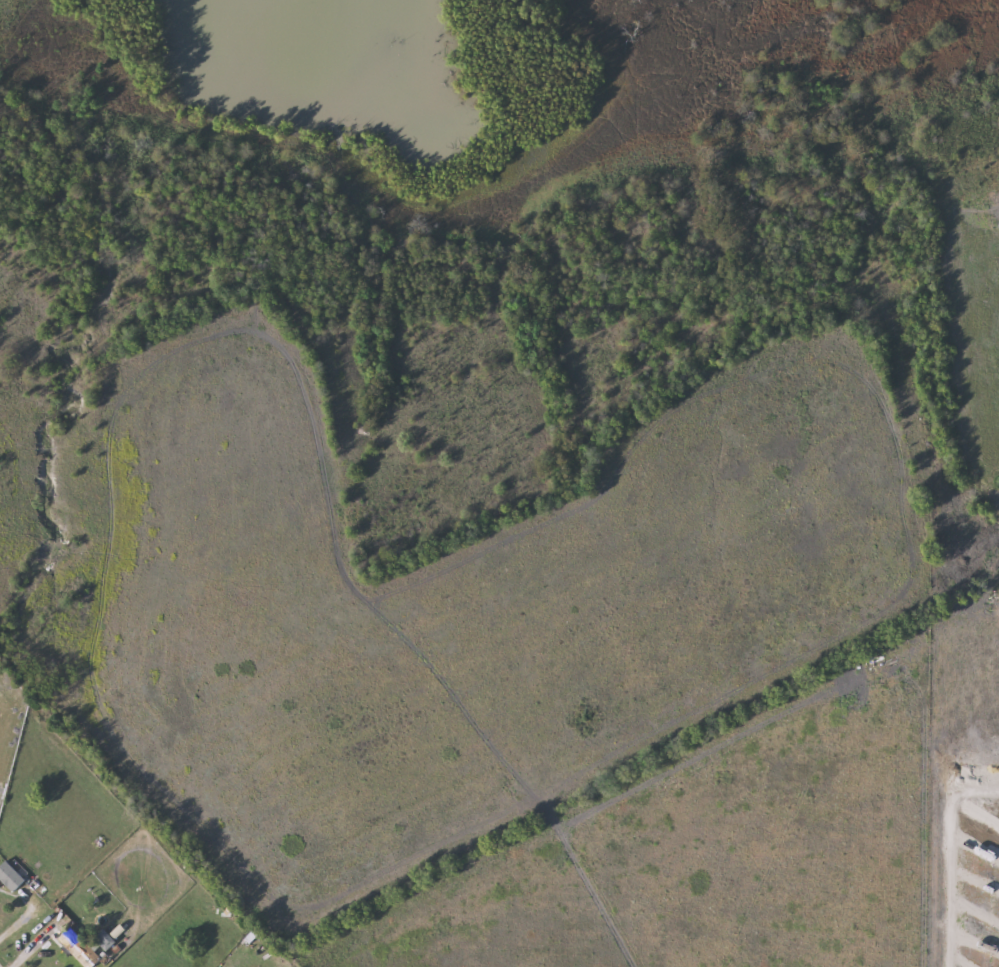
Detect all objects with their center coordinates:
building: (11, 877)
building: (80, 948)

